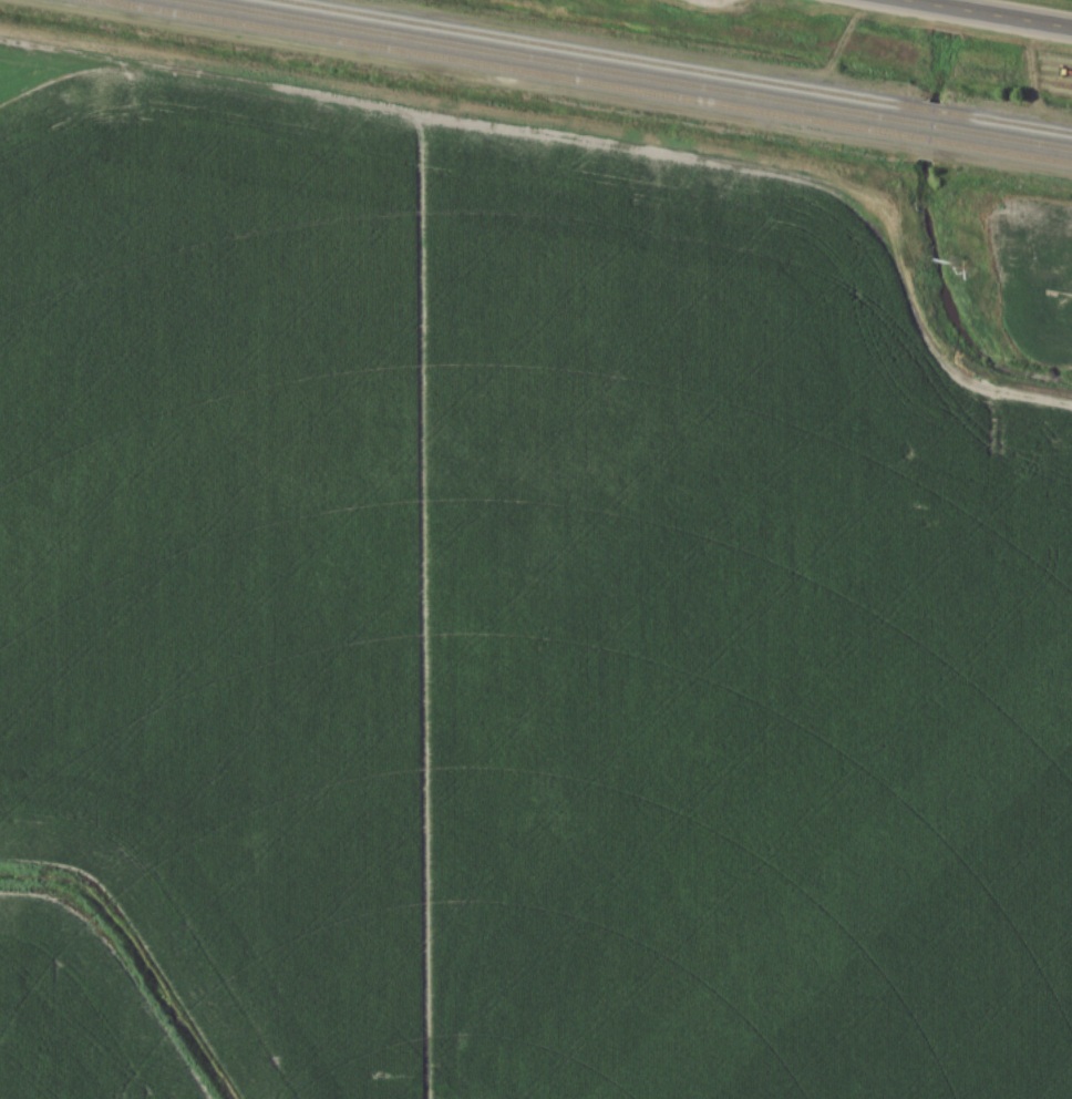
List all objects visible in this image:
road: (988, 13)
railway: (674, 66)
railway: (629, 74)
railway: (584, 81)

